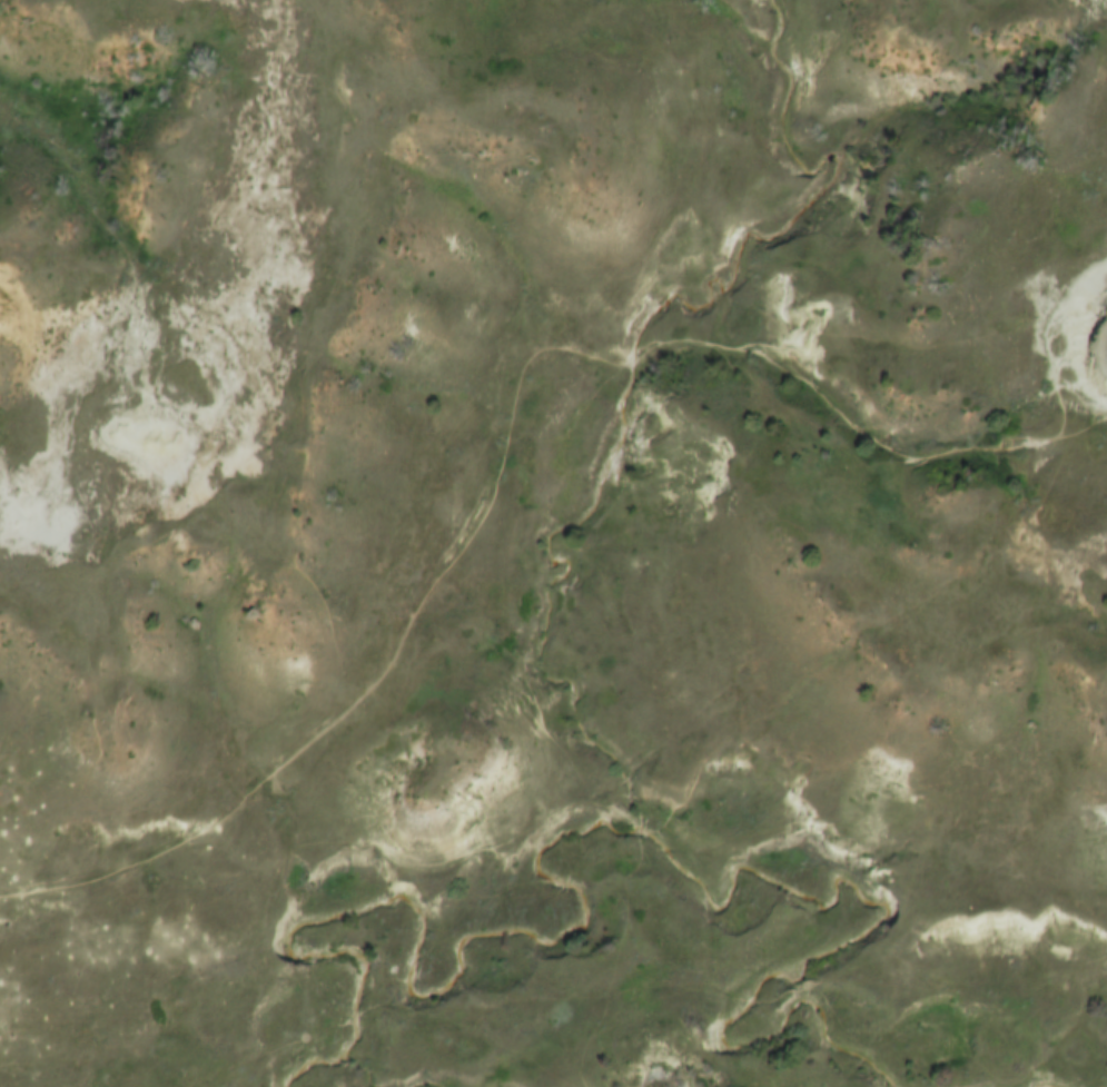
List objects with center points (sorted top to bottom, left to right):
road: (503, 439)

